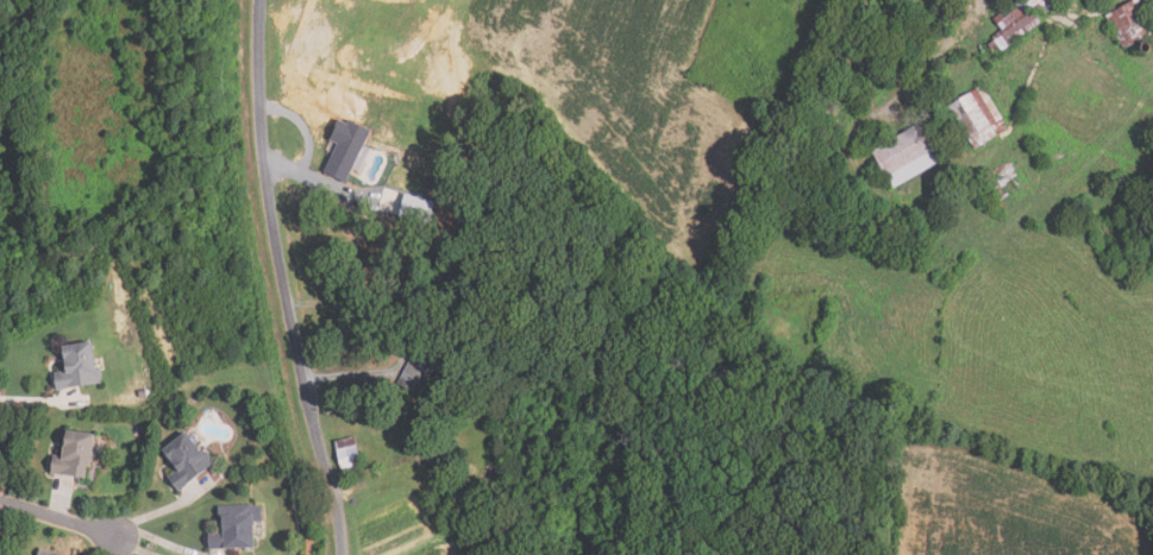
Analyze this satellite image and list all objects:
building: (1019, 21)
building: (892, 23)
building: (934, 23)
building: (1132, 23)
road: (950, 43)
river: (32, 94)
building: (975, 118)
building: (347, 147)
building: (910, 153)
building: (1111, 182)
building: (1002, 184)
road: (322, 187)
building: (419, 208)
road: (282, 279)
road: (402, 339)
river: (788, 345)
building: (79, 366)
building: (419, 371)
building: (347, 453)
building: (75, 454)
building: (435, 459)
building: (186, 460)
road: (56, 517)
building: (236, 529)
building: (43, 554)

